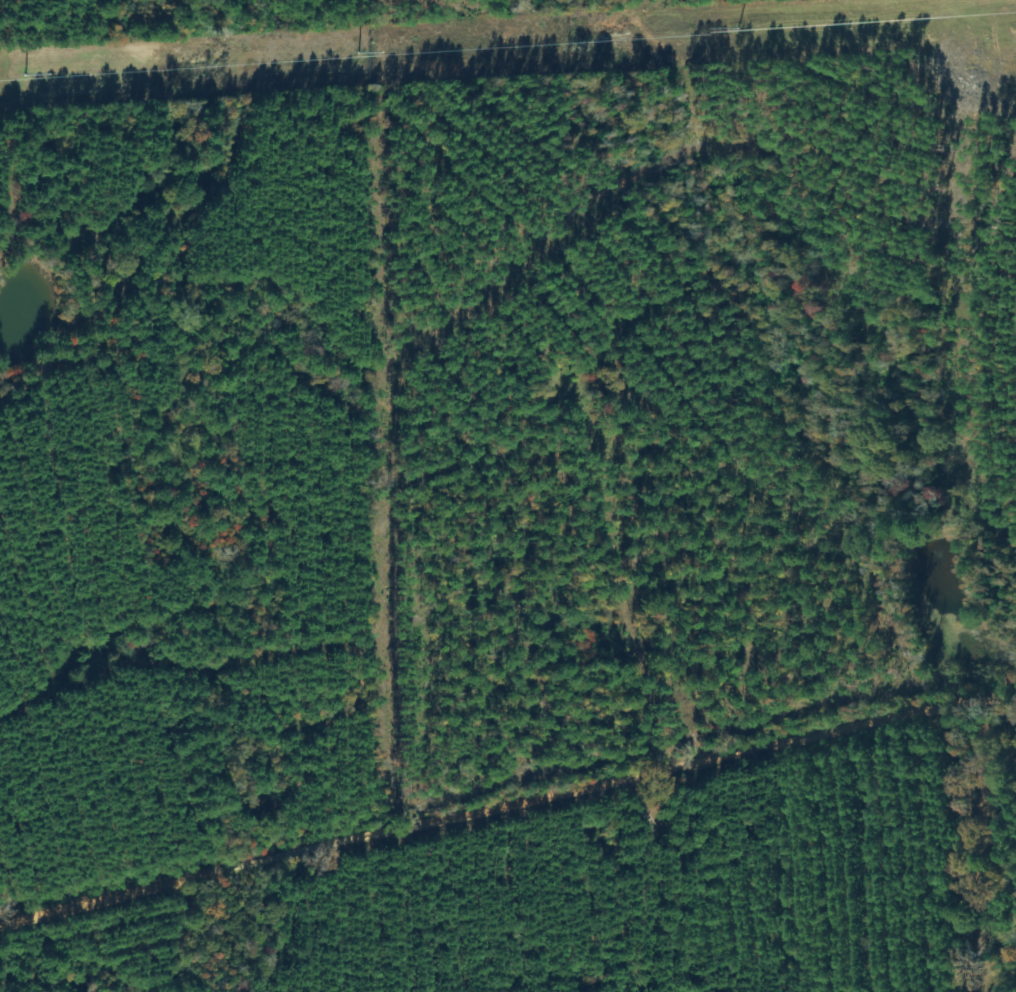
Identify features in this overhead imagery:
power tower: (724, 33)
power tower: (367, 58)
power tower: (67, 76)
road: (506, 807)

